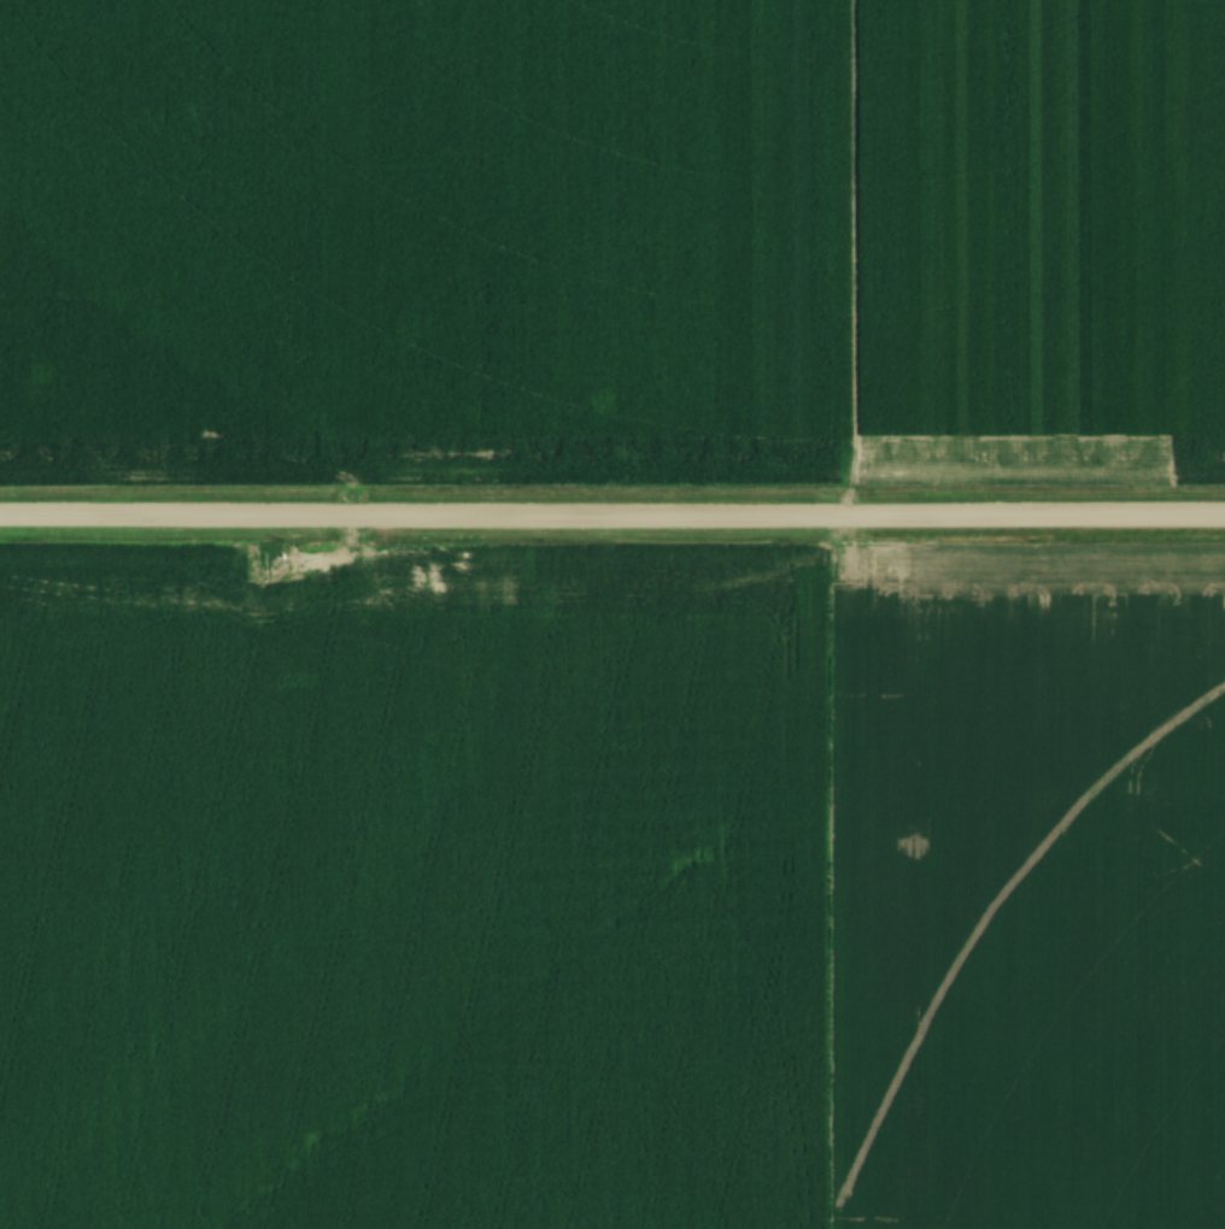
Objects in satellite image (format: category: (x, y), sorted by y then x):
road: (612, 517)

